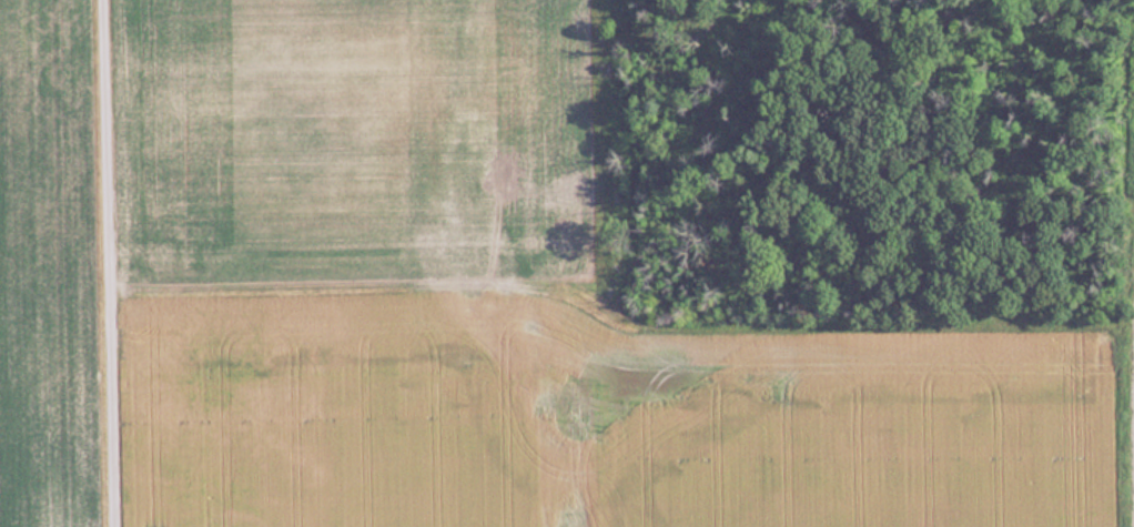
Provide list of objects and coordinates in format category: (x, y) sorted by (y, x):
road: (114, 263)

